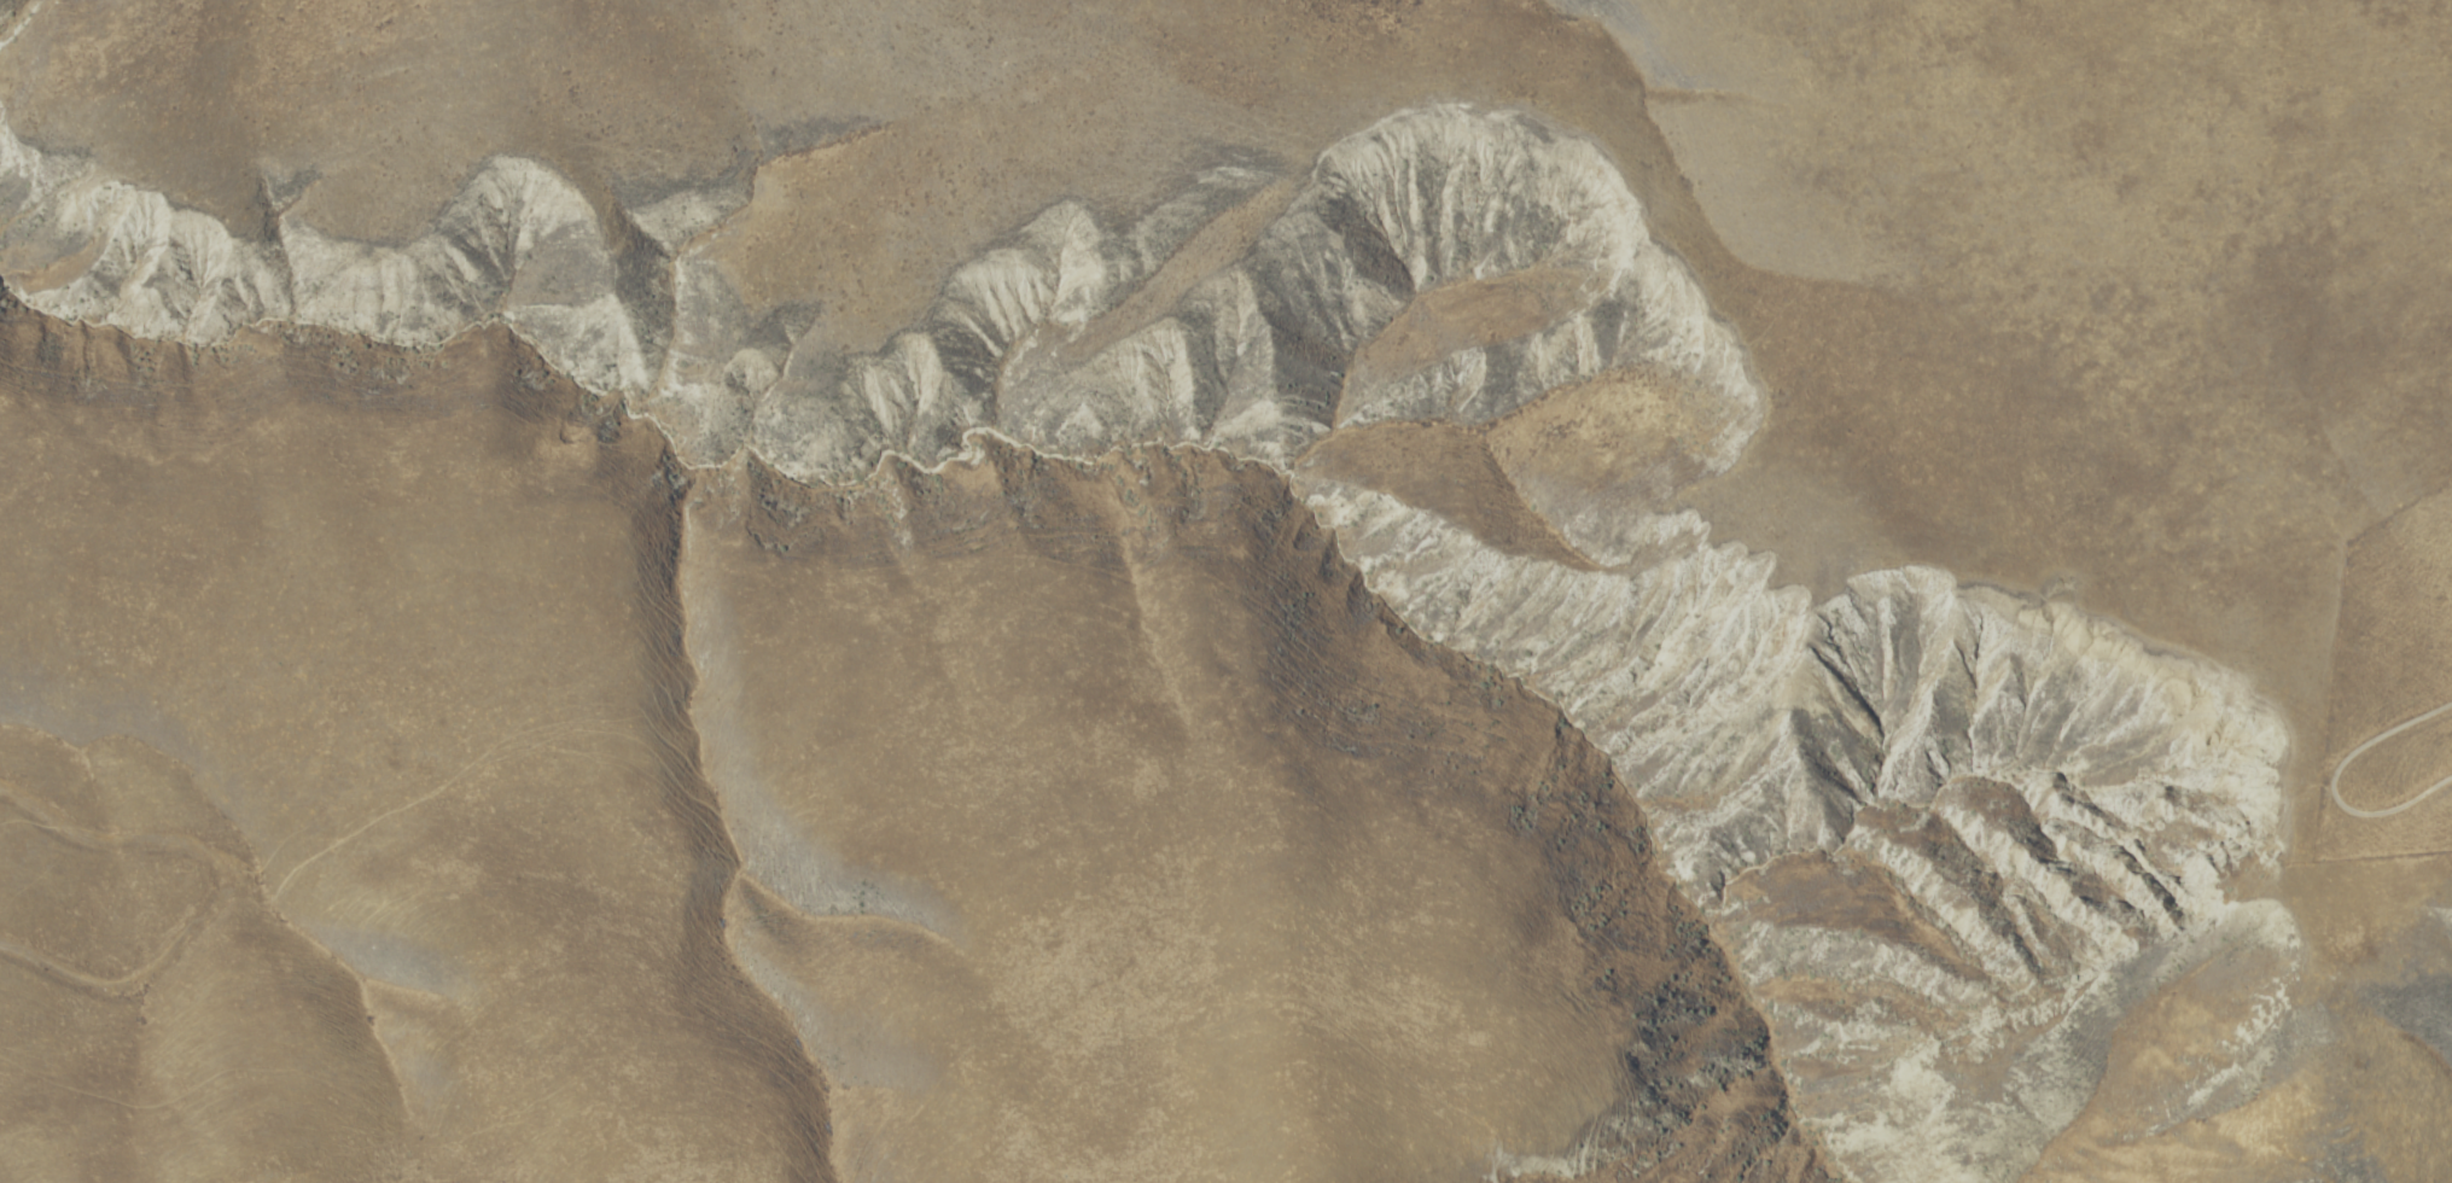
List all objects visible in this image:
road: (2335, 777)

